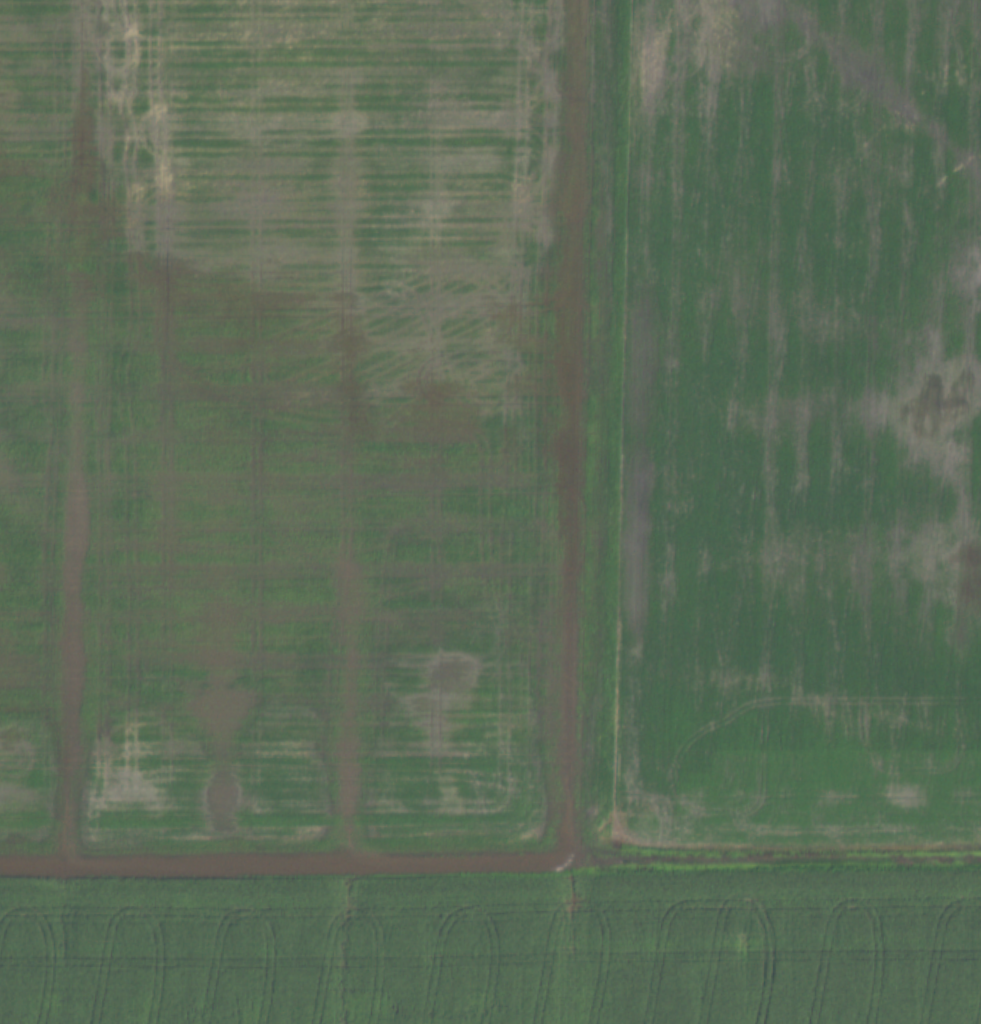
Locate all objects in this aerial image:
crop: (490, 424)
crop: (491, 949)

